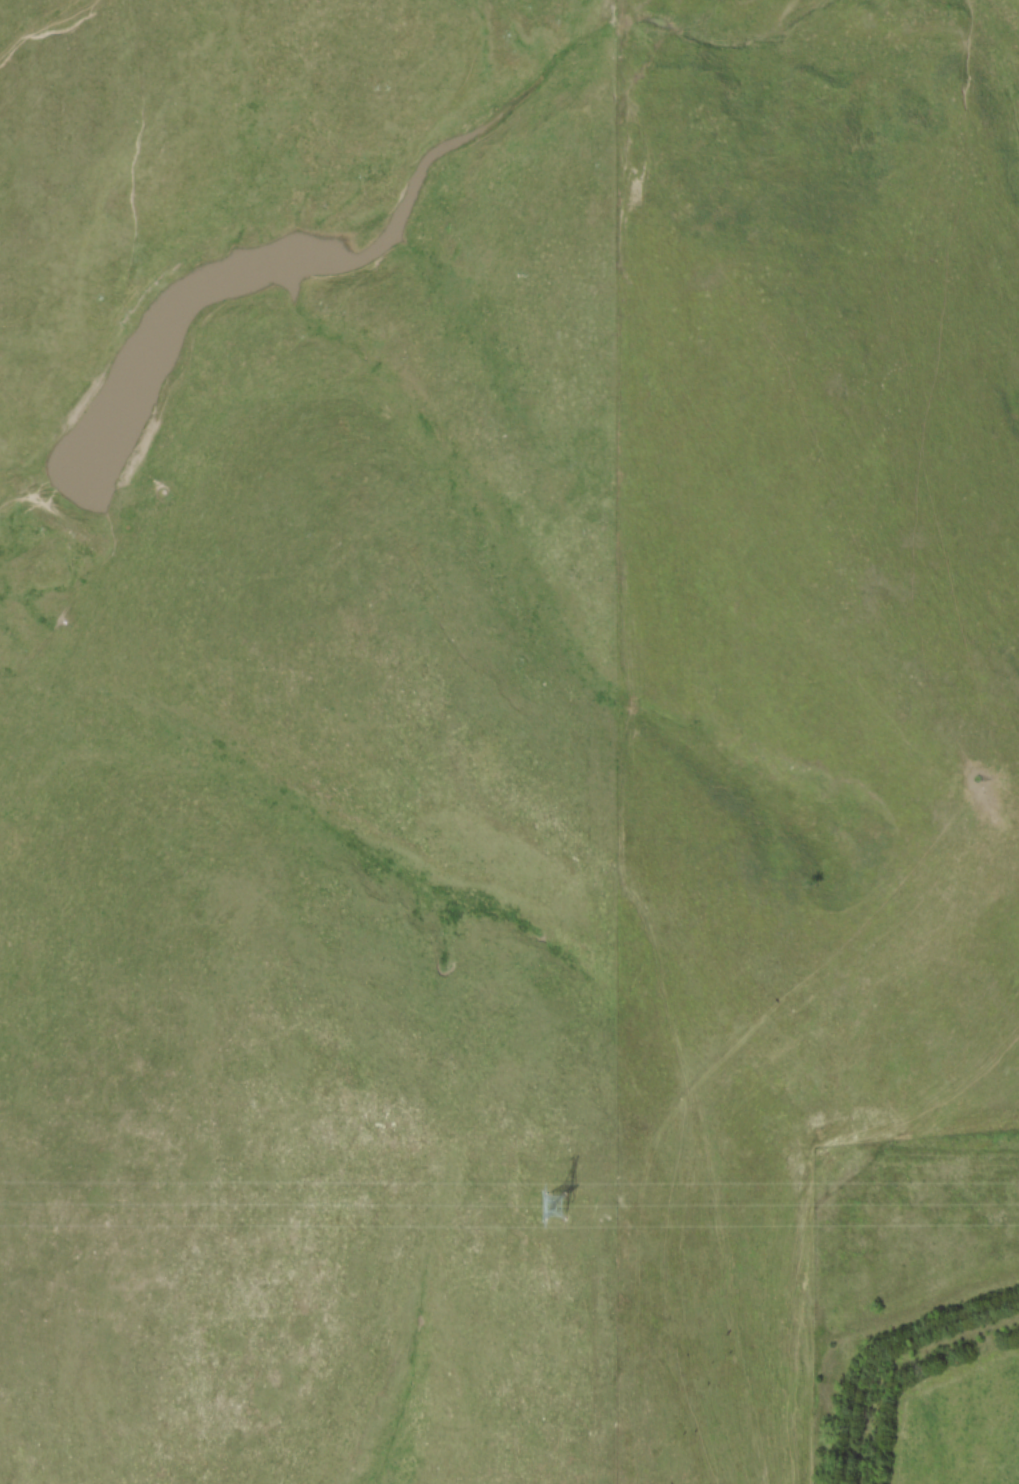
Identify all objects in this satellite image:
power tower: (553, 1206)

